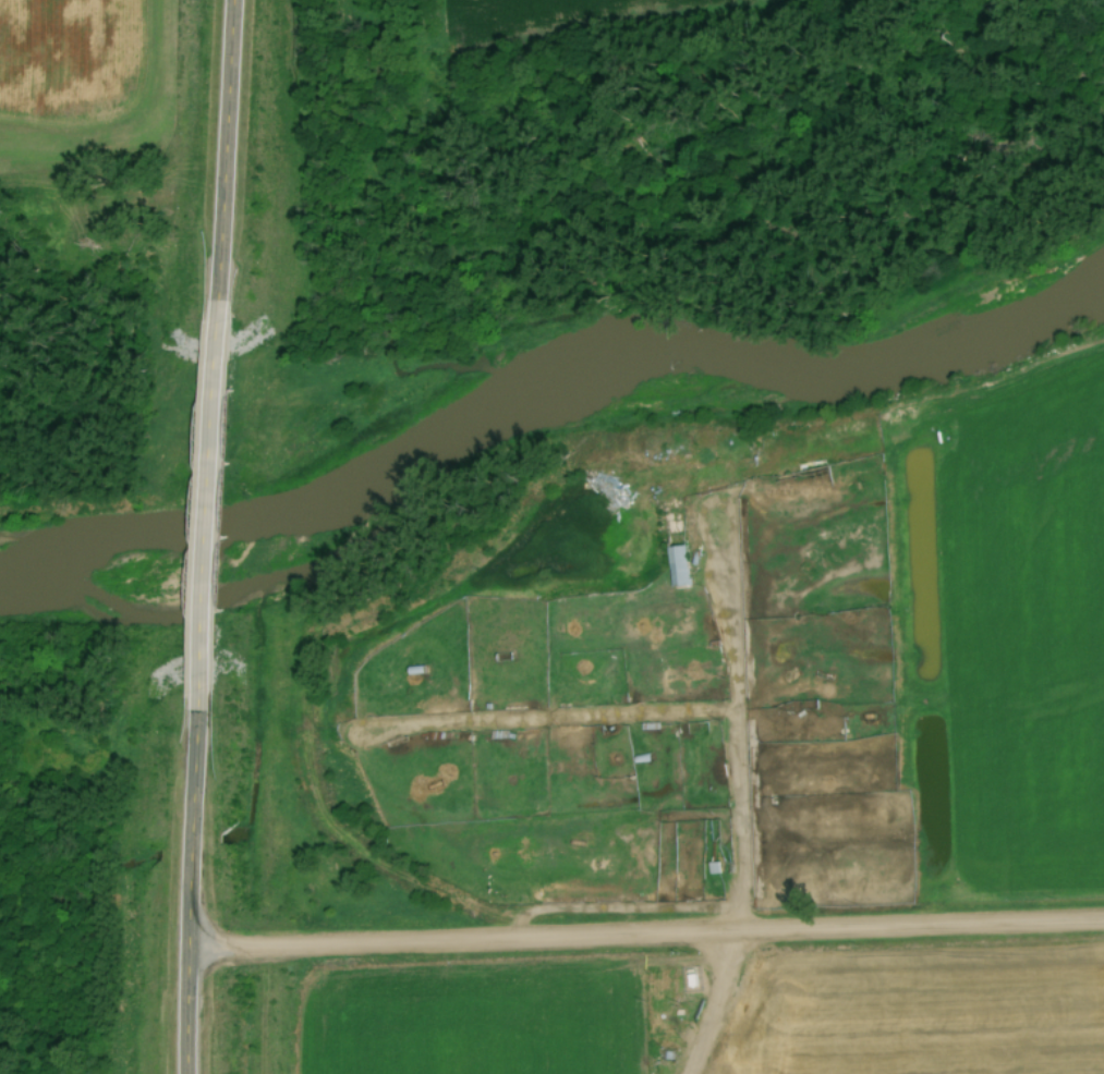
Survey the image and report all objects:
crop: (585, 20)
road: (222, 149)
river: (534, 388)
road: (204, 504)
building: (676, 561)
crop: (1024, 631)
building: (689, 674)
building: (695, 729)
road: (741, 804)
road: (190, 891)
road: (646, 936)

